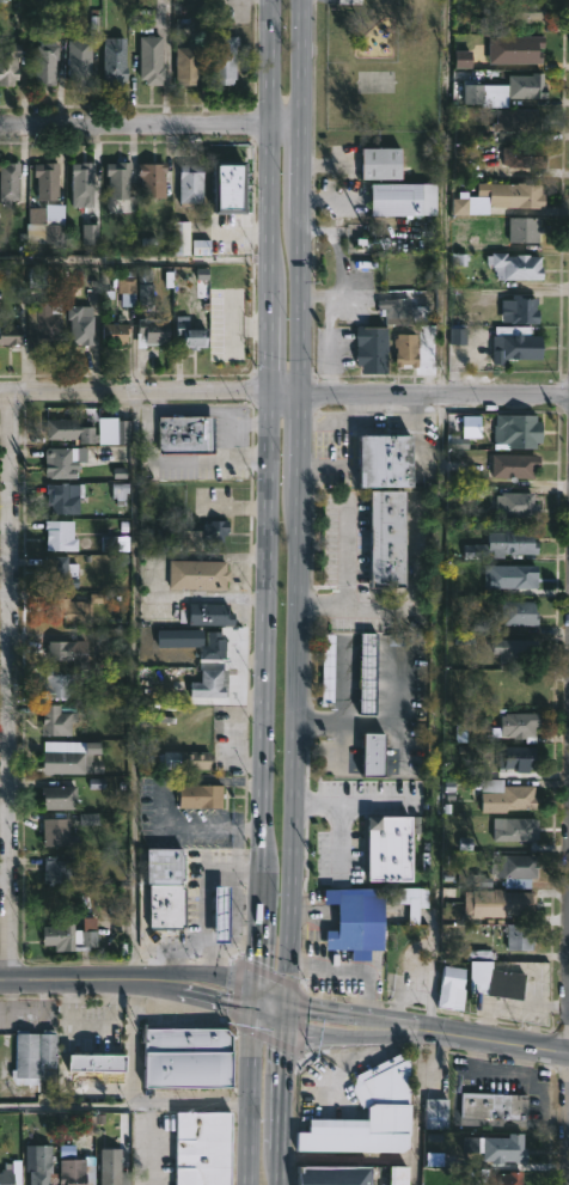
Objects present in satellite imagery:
building: (531, 11)
building: (531, 51)
building: (82, 57)
building: (151, 59)
building: (116, 60)
building: (226, 60)
building: (45, 62)
road: (271, 62)
road: (308, 62)
building: (10, 65)
building: (188, 65)
building: (507, 90)
building: (520, 123)
road: (135, 124)
road: (289, 126)
building: (524, 155)
building: (380, 163)
building: (118, 179)
building: (152, 179)
building: (10, 182)
building: (192, 183)
building: (82, 184)
building: (231, 187)
building: (525, 195)
building: (406, 198)
building: (48, 201)
building: (525, 228)
building: (183, 238)
road: (136, 263)
building: (518, 265)
building: (126, 287)
building: (409, 307)
building: (525, 310)
building: (228, 320)
building: (45, 324)
building: (81, 324)
building: (152, 331)
building: (191, 332)
building: (115, 334)
building: (10, 335)
building: (515, 344)
building: (373, 347)
building: (408, 349)
road: (135, 390)
road: (287, 393)
road: (435, 397)
road: (158, 399)
road: (142, 408)
road: (255, 422)
road: (148, 423)
building: (90, 428)
building: (520, 430)
building: (190, 435)
building: (390, 460)
building: (61, 464)
building: (515, 465)
building: (65, 496)
building: (518, 505)
road: (439, 519)
building: (206, 535)
building: (61, 536)
building: (391, 539)
building: (513, 543)
road: (344, 557)
building: (62, 572)
building: (198, 574)
building: (522, 576)
road: (233, 598)
building: (66, 607)
road: (408, 609)
building: (520, 612)
building: (212, 615)
building: (195, 642)
building: (62, 650)
building: (515, 650)
road: (269, 655)
road: (300, 655)
building: (371, 673)
road: (10, 683)
road: (135, 684)
building: (212, 684)
building: (59, 685)
building: (57, 721)
building: (519, 723)
building: (68, 756)
building: (377, 756)
building: (520, 756)
building: (195, 759)
building: (507, 795)
building: (202, 796)
building: (61, 798)
building: (513, 829)
building: (60, 833)
building: (390, 847)
building: (519, 867)
building: (57, 868)
building: (169, 888)
building: (512, 899)
road: (204, 900)
building: (219, 921)
building: (360, 921)
building: (72, 934)
building: (522, 936)
road: (172, 947)
road: (82, 977)
building: (479, 984)
traffic signals: (261, 990)
road: (270, 994)
traffic signals: (293, 1003)
traffic signals: (259, 1013)
road: (267, 1015)
traffic signals: (292, 1024)
road: (470, 1043)
building: (35, 1056)
building: (191, 1056)
building: (93, 1061)
building: (495, 1105)
road: (127, 1106)
building: (439, 1108)
road: (416, 1111)
building: (372, 1113)
road: (152, 1146)
building: (207, 1147)
building: (500, 1147)
building: (44, 1166)
building: (115, 1169)
building: (78, 1172)
building: (338, 1174)
building: (402, 1174)
building: (7, 1177)
building: (507, 1178)

